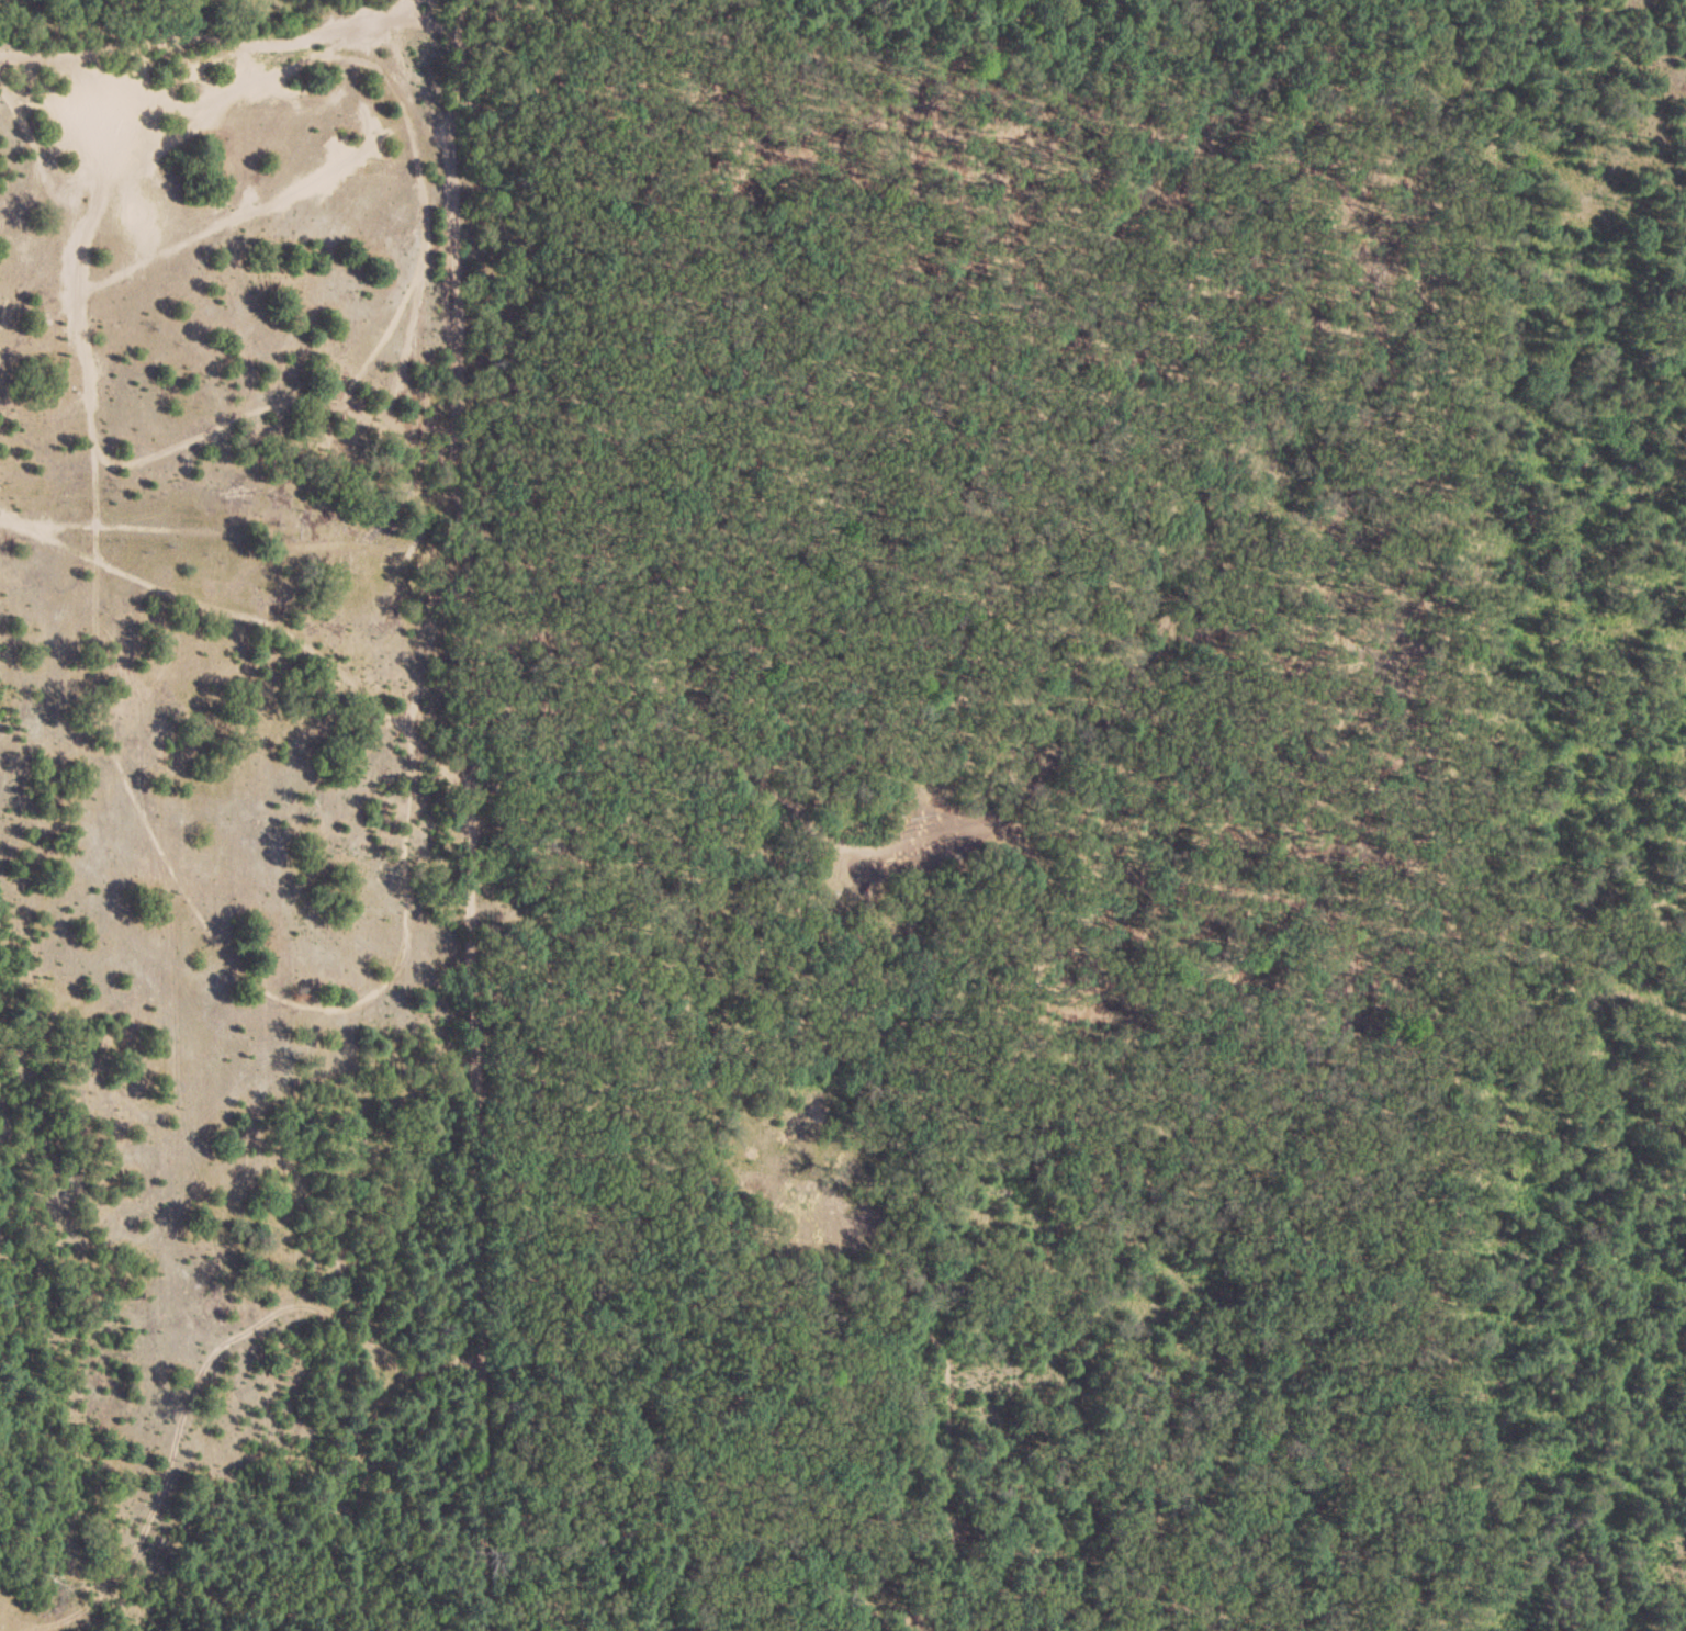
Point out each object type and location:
road: (481, 815)

